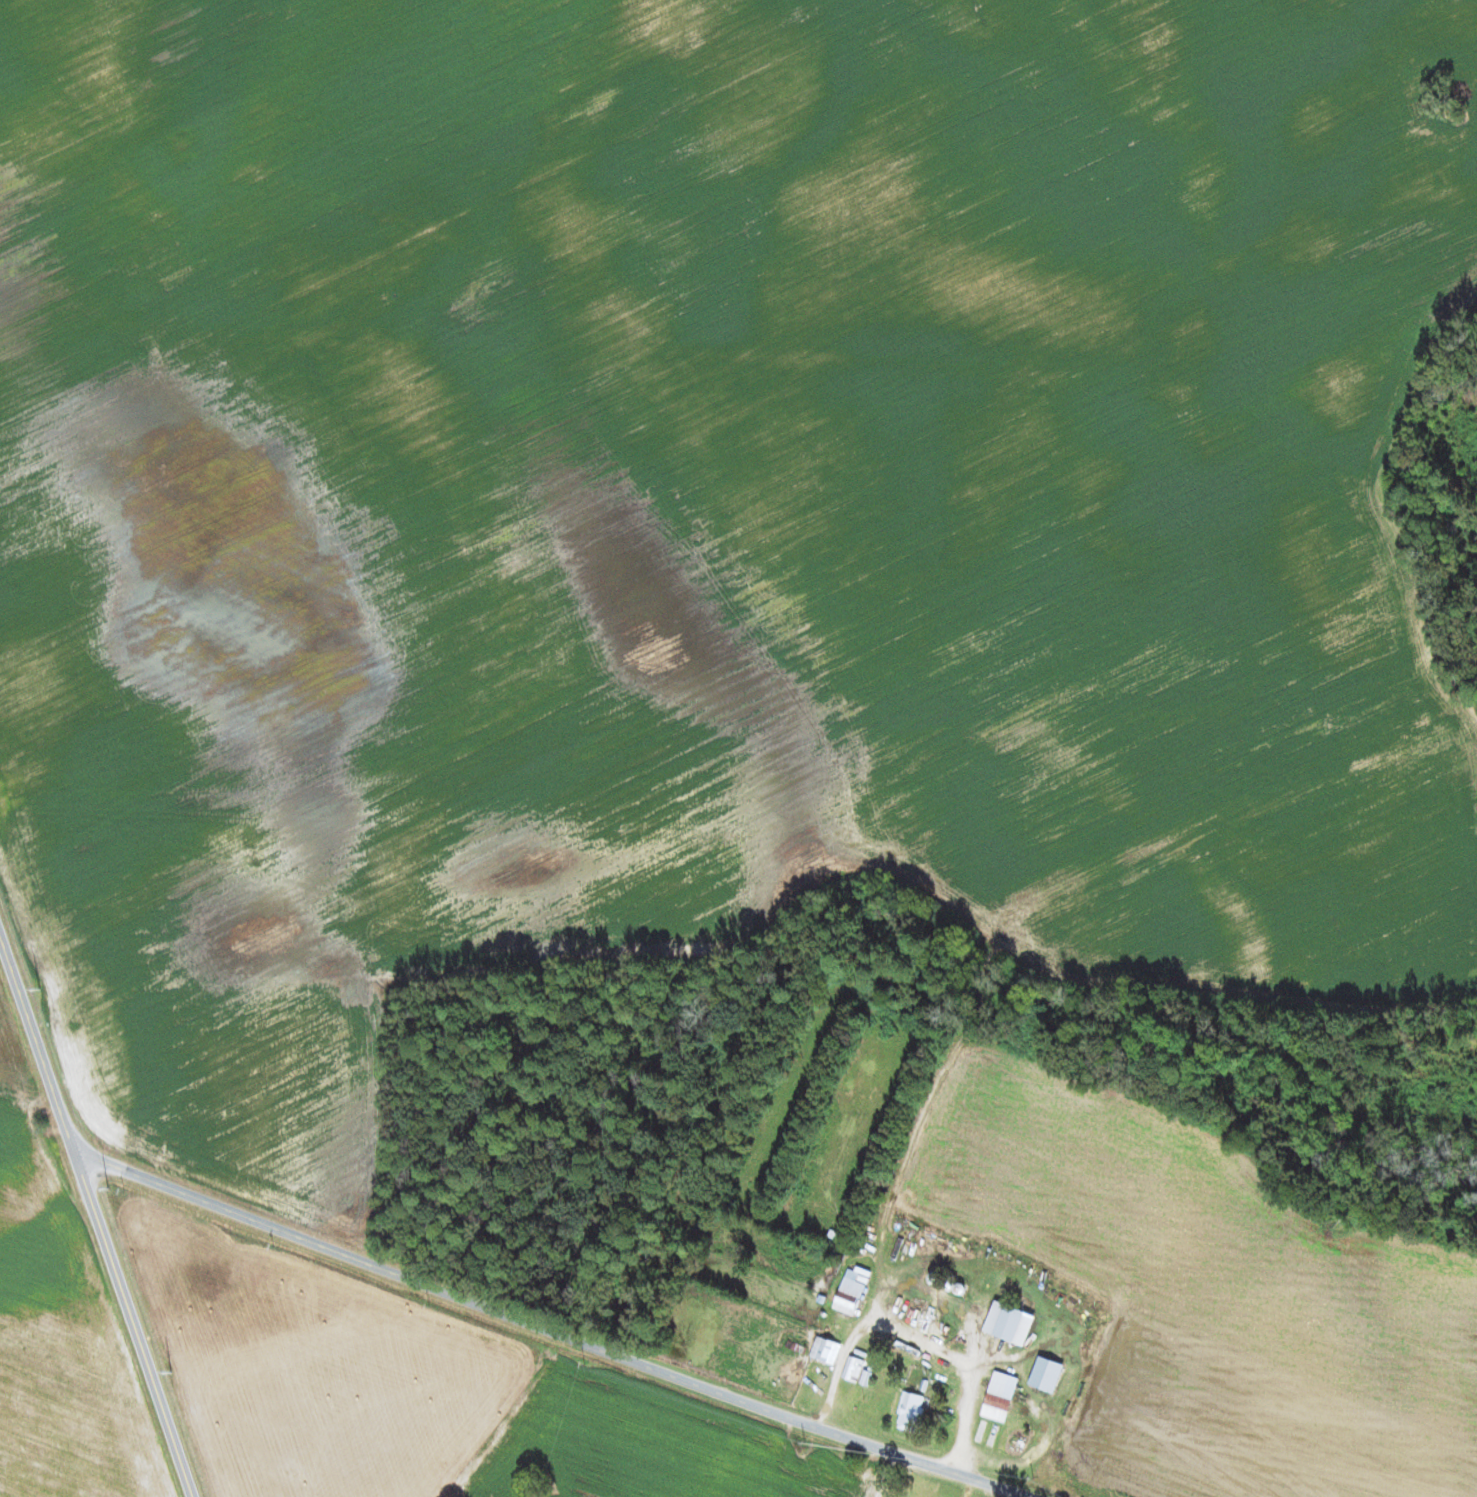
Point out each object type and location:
road: (99, 1217)
building: (849, 1295)
building: (1009, 1322)
road: (551, 1332)
building: (825, 1349)
building: (852, 1368)
building: (1046, 1374)
building: (999, 1396)
building: (910, 1411)

